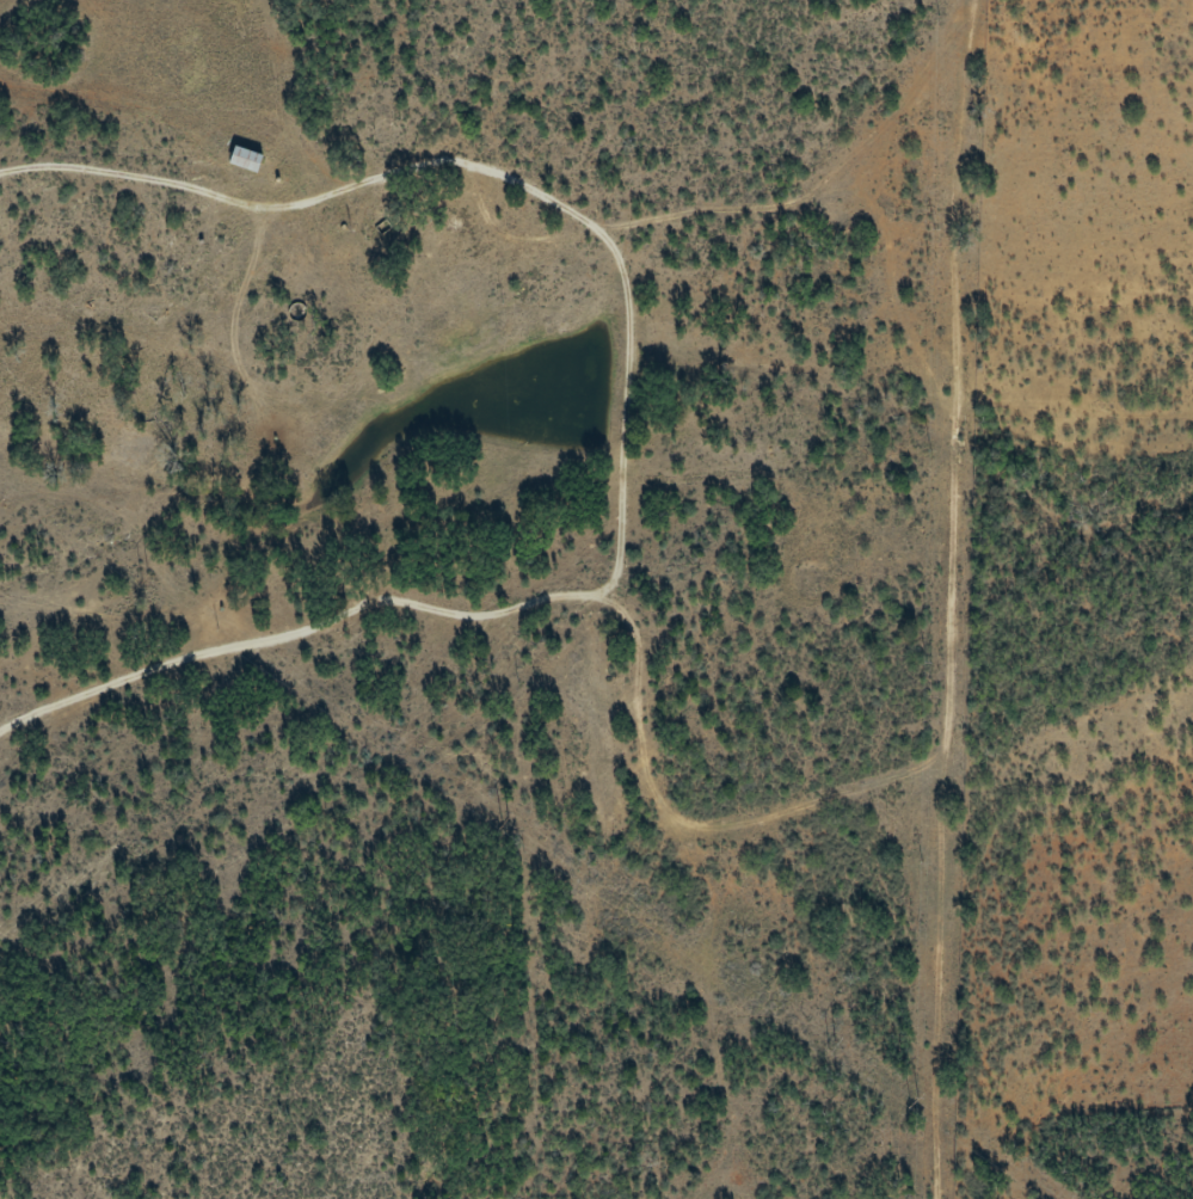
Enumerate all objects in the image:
building: (246, 160)
road: (676, 244)
power tower: (144, 578)
road: (961, 601)
road: (535, 637)
power tower: (502, 818)
power tower: (831, 1045)
power tower: (912, 1100)

